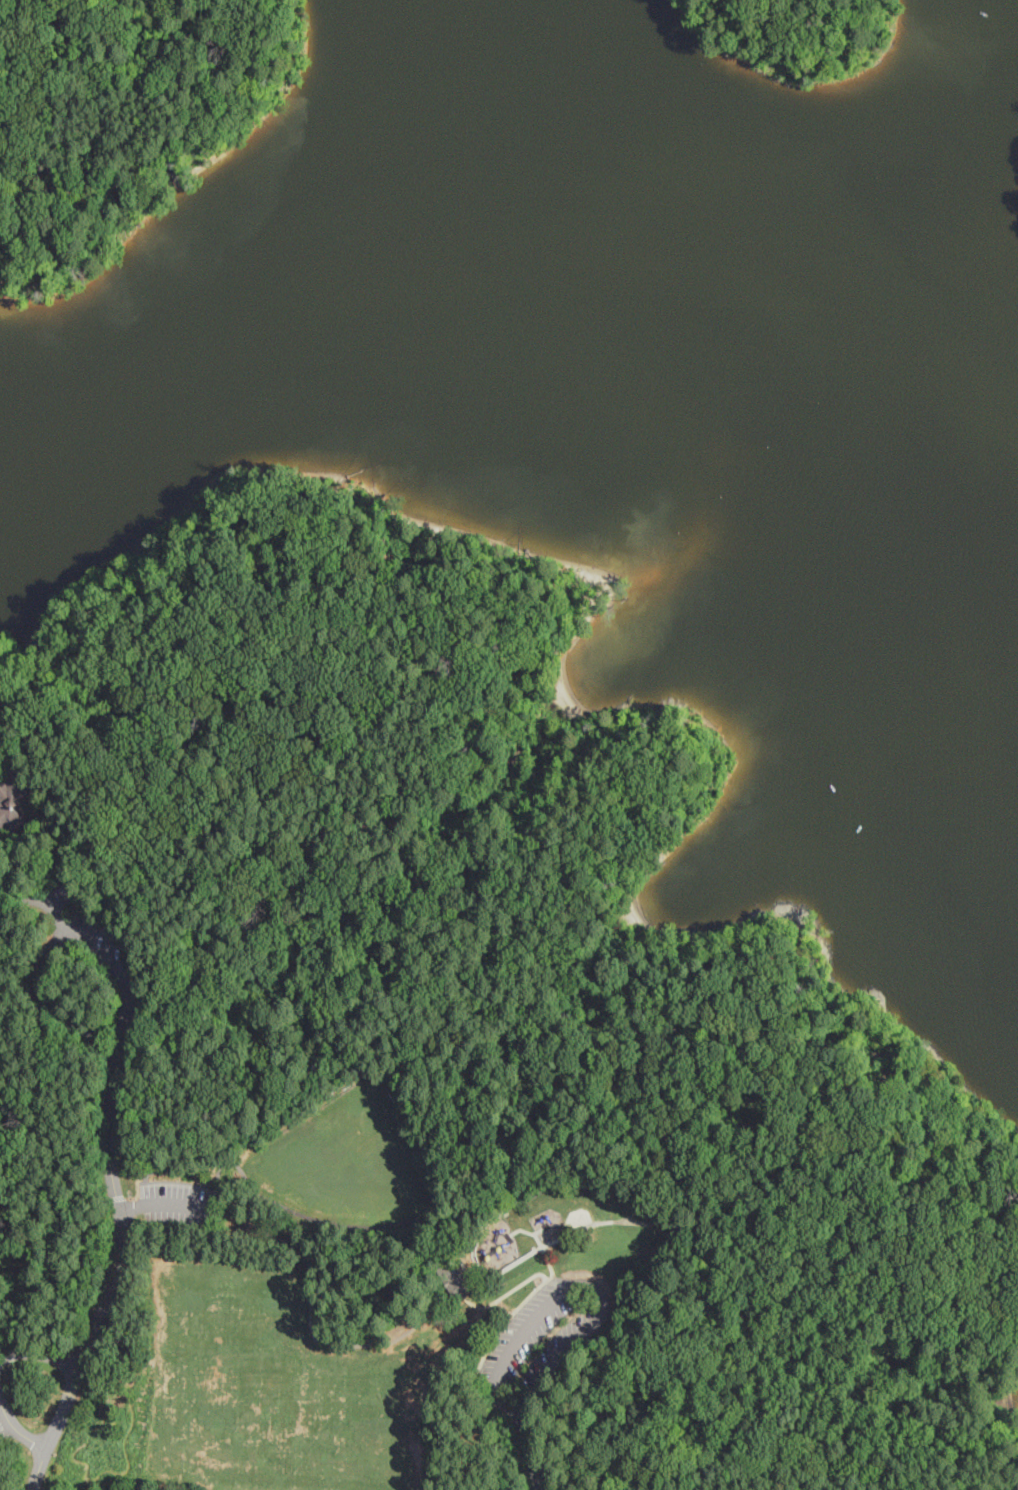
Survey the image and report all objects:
road: (75, 20)
road: (487, 621)
building: (20, 801)
road: (202, 870)
road: (36, 898)
road: (13, 910)
parking lot: (82, 926)
parking lot: (92, 937)
road: (583, 977)
road: (106, 1030)
park: (443, 1058)
road: (538, 1074)
park: (345, 1160)
road: (799, 1190)
road: (139, 1195)
road: (165, 1204)
parking lot: (175, 1206)
parking lot: (176, 1207)
road: (672, 1221)
road: (892, 1231)
road: (538, 1232)
road: (550, 1268)
building: (454, 1278)
road: (109, 1282)
road: (582, 1284)
road: (559, 1286)
road: (508, 1294)
parking lot: (541, 1337)
road: (707, 1354)
road: (39, 1357)
road: (17, 1430)
road: (529, 1454)
road: (769, 1464)
road: (544, 1476)

